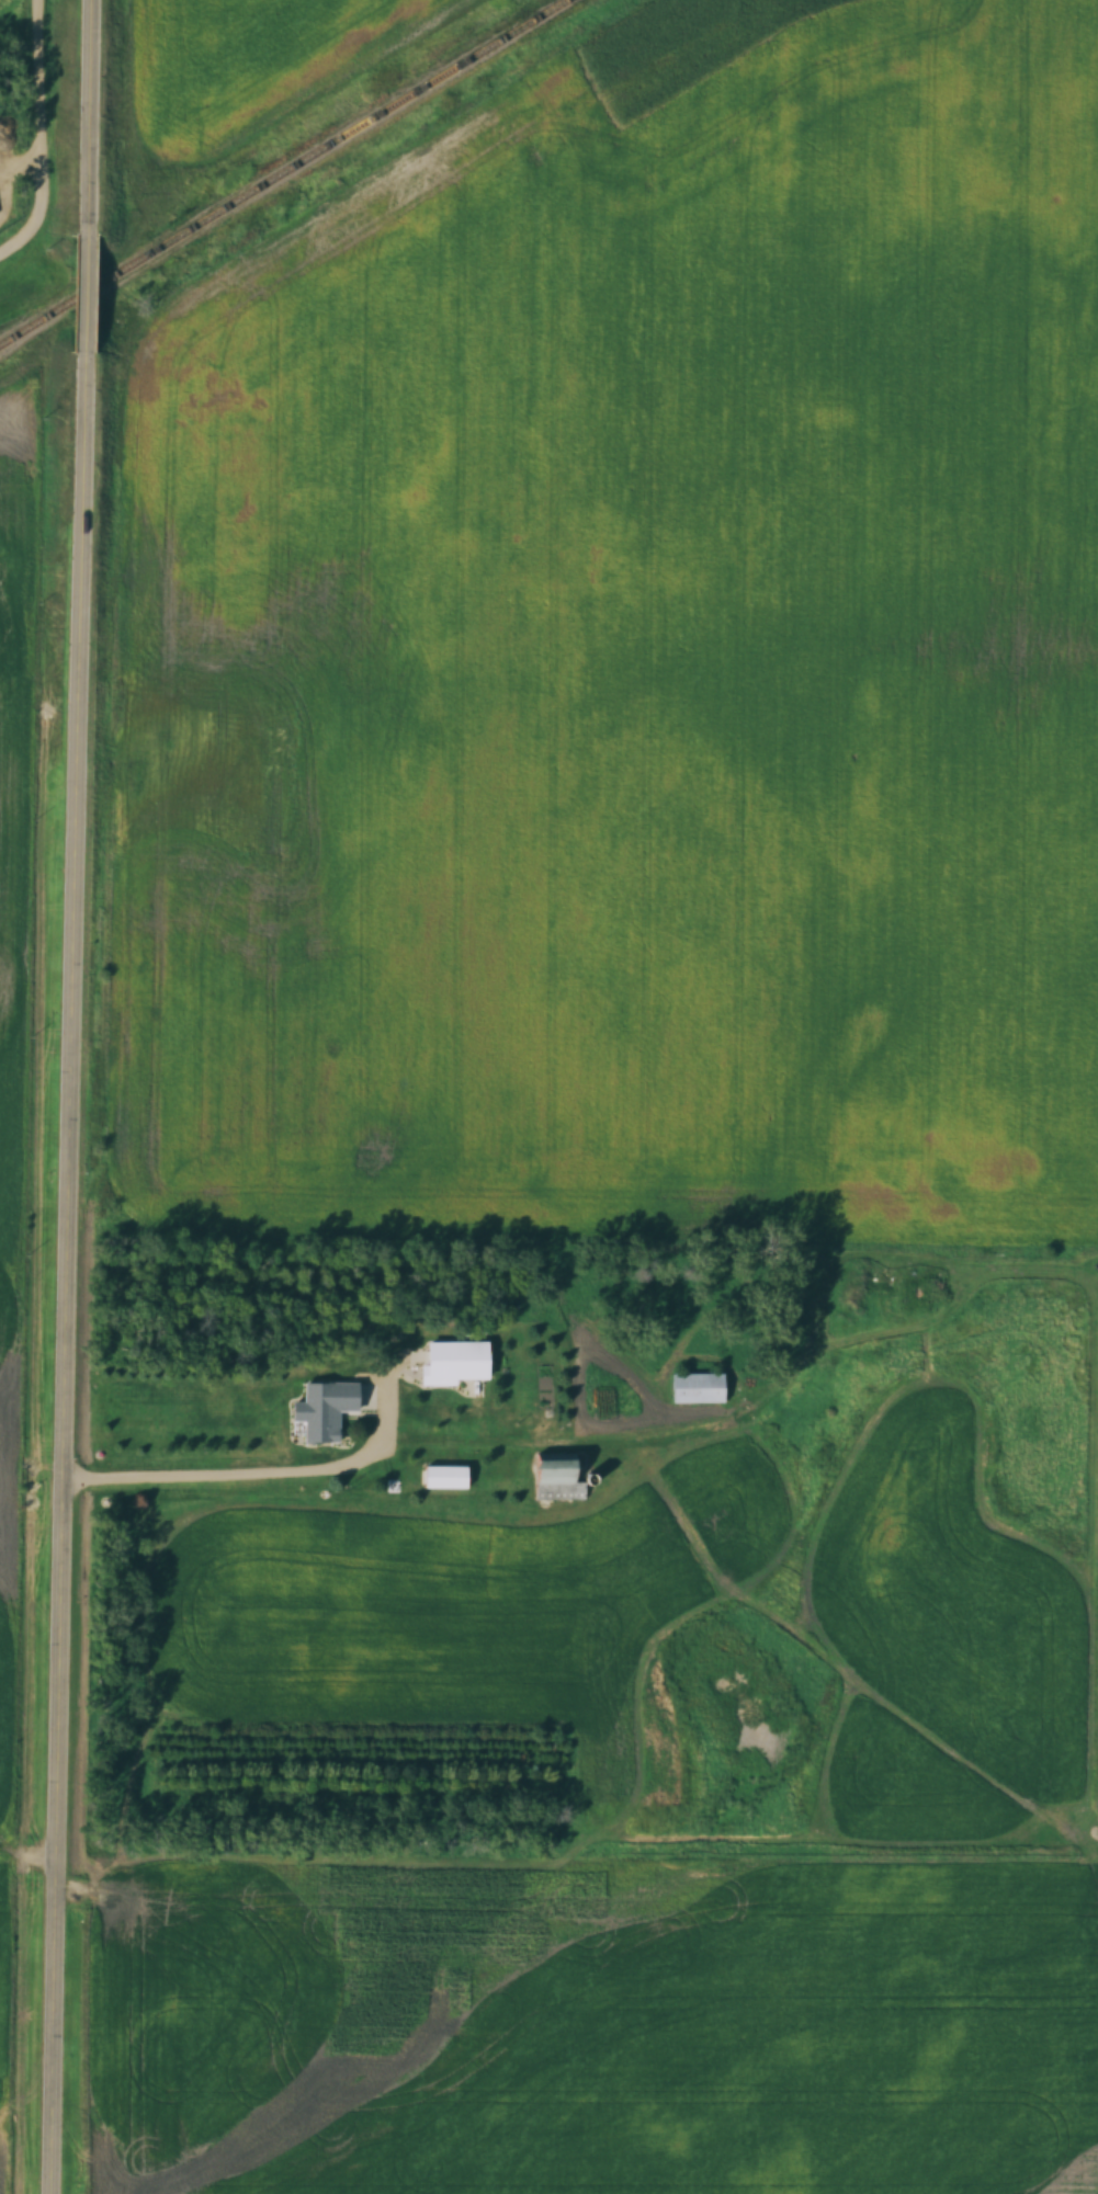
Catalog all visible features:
road: (95, 117)
road: (47, 138)
railway: (284, 173)
road: (93, 286)
road: (73, 1265)
building: (697, 1388)
building: (316, 1413)
building: (550, 1475)
building: (444, 1476)

